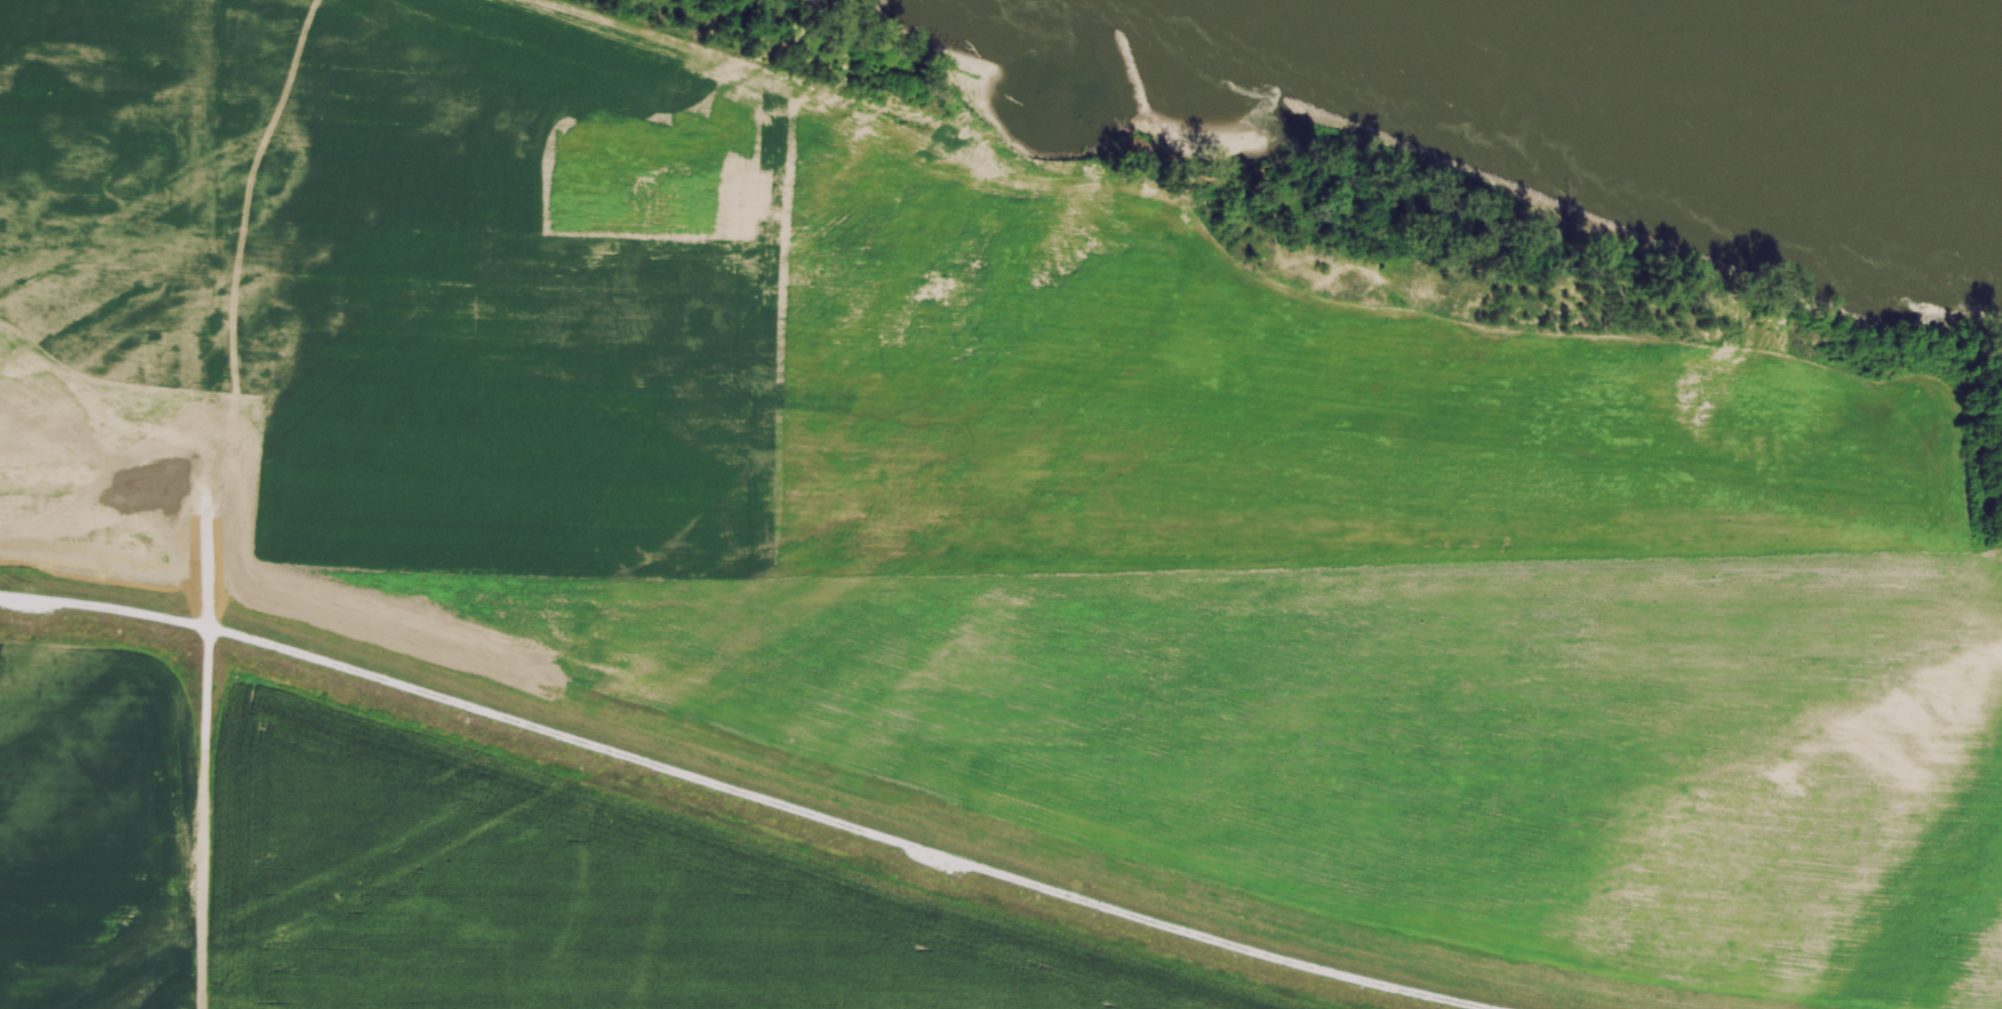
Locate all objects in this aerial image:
river: (1757, 53)
road: (208, 504)
road: (774, 789)

